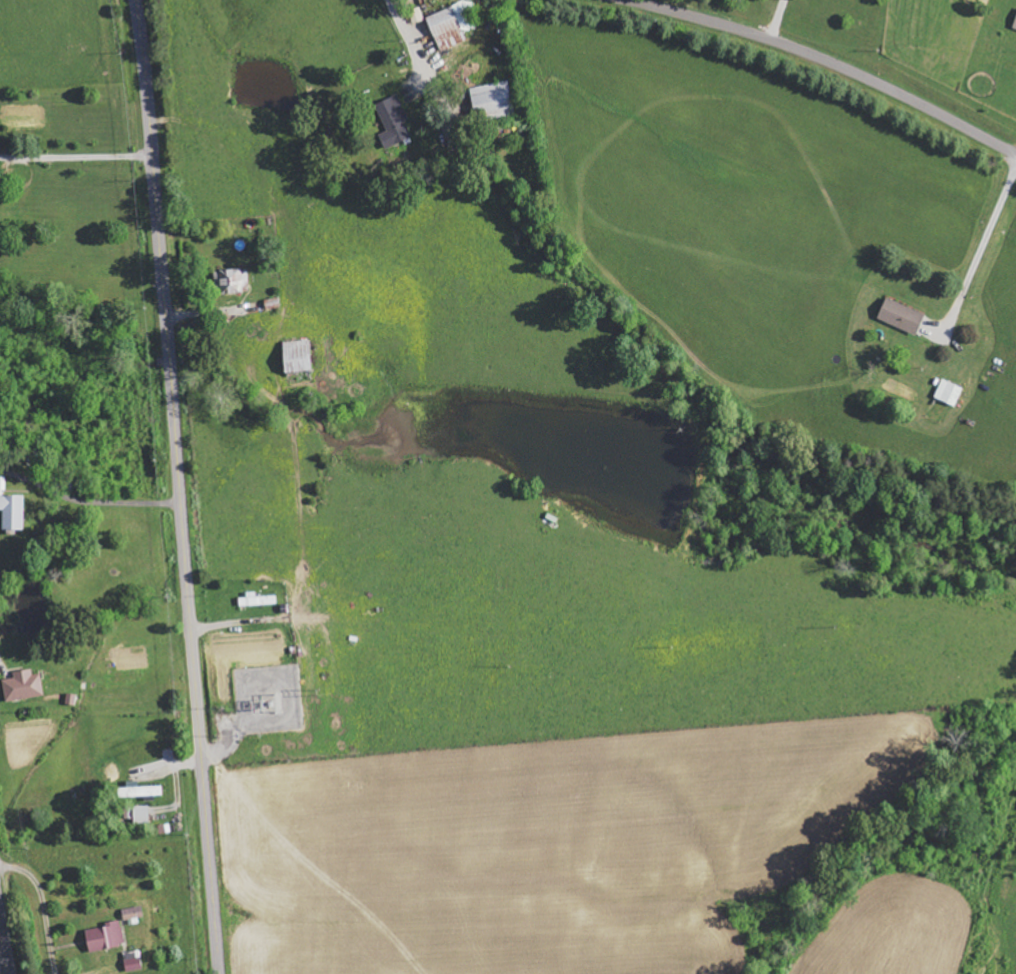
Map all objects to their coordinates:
building: (452, 24)
building: (1015, 25)
road: (820, 59)
building: (493, 99)
building: (394, 121)
building: (233, 281)
building: (252, 307)
building: (902, 316)
building: (297, 356)
building: (949, 392)
road: (179, 486)
building: (13, 512)
building: (257, 600)
building: (23, 686)
building: (140, 791)
building: (141, 814)
building: (133, 913)
building: (106, 937)
road: (4, 951)
building: (133, 961)

